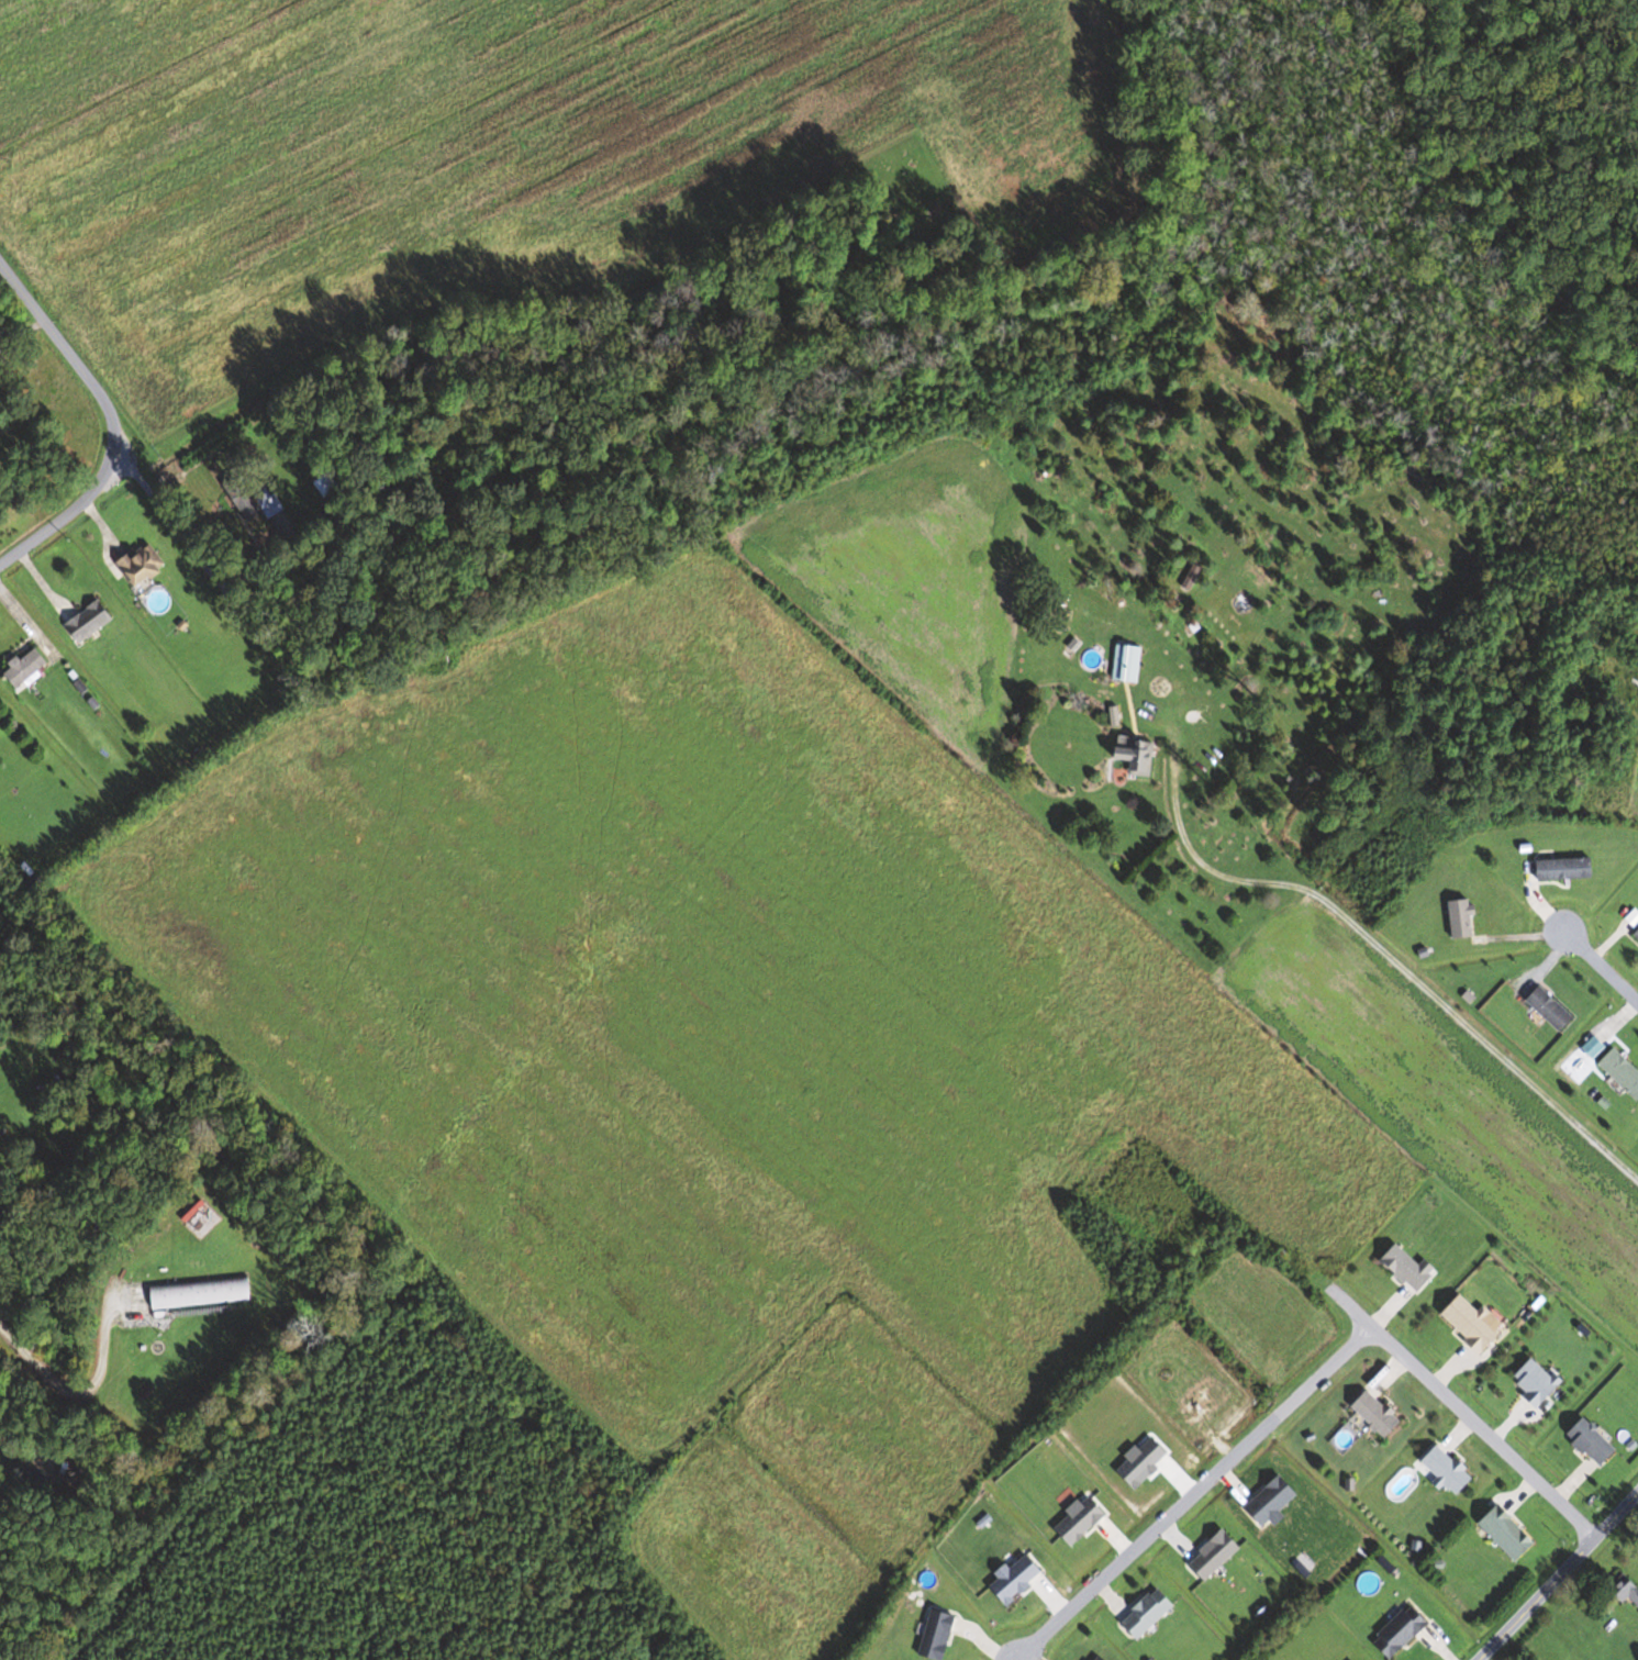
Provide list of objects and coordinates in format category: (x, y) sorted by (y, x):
park: (915, 190)
road: (105, 421)
building: (253, 497)
road: (204, 564)
building: (143, 565)
building: (90, 621)
building: (1620, 645)
building: (1127, 664)
building: (26, 667)
building: (1138, 754)
building: (1637, 933)
road: (1382, 950)
road: (1598, 965)
building: (1551, 1009)
building: (1623, 1071)
building: (1409, 1267)
building: (200, 1292)
building: (1474, 1323)
building: (1537, 1381)
road: (71, 1390)
road: (1460, 1412)
building: (1378, 1413)
building: (1592, 1441)
building: (1448, 1470)
road: (1192, 1493)
building: (1508, 1533)
road: (1556, 1575)
building: (1625, 1589)
building: (1148, 1613)
building: (1402, 1631)
building: (1352, 1659)

